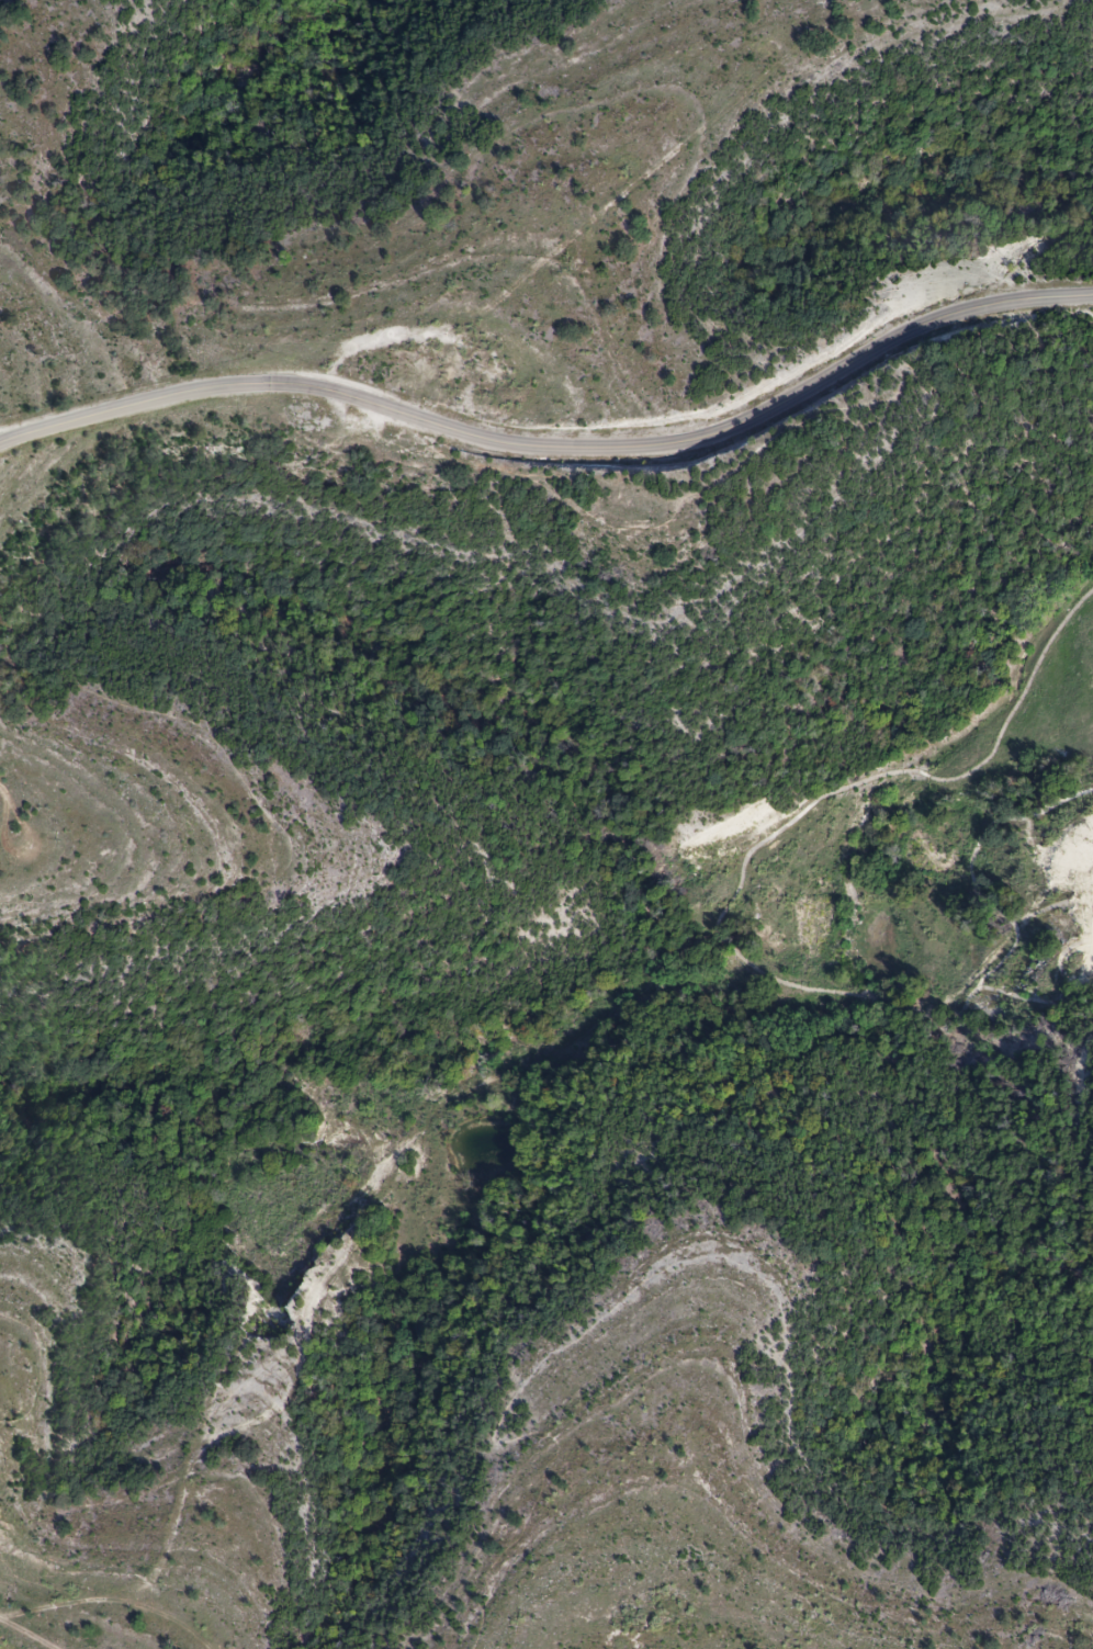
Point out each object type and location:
road: (554, 449)

